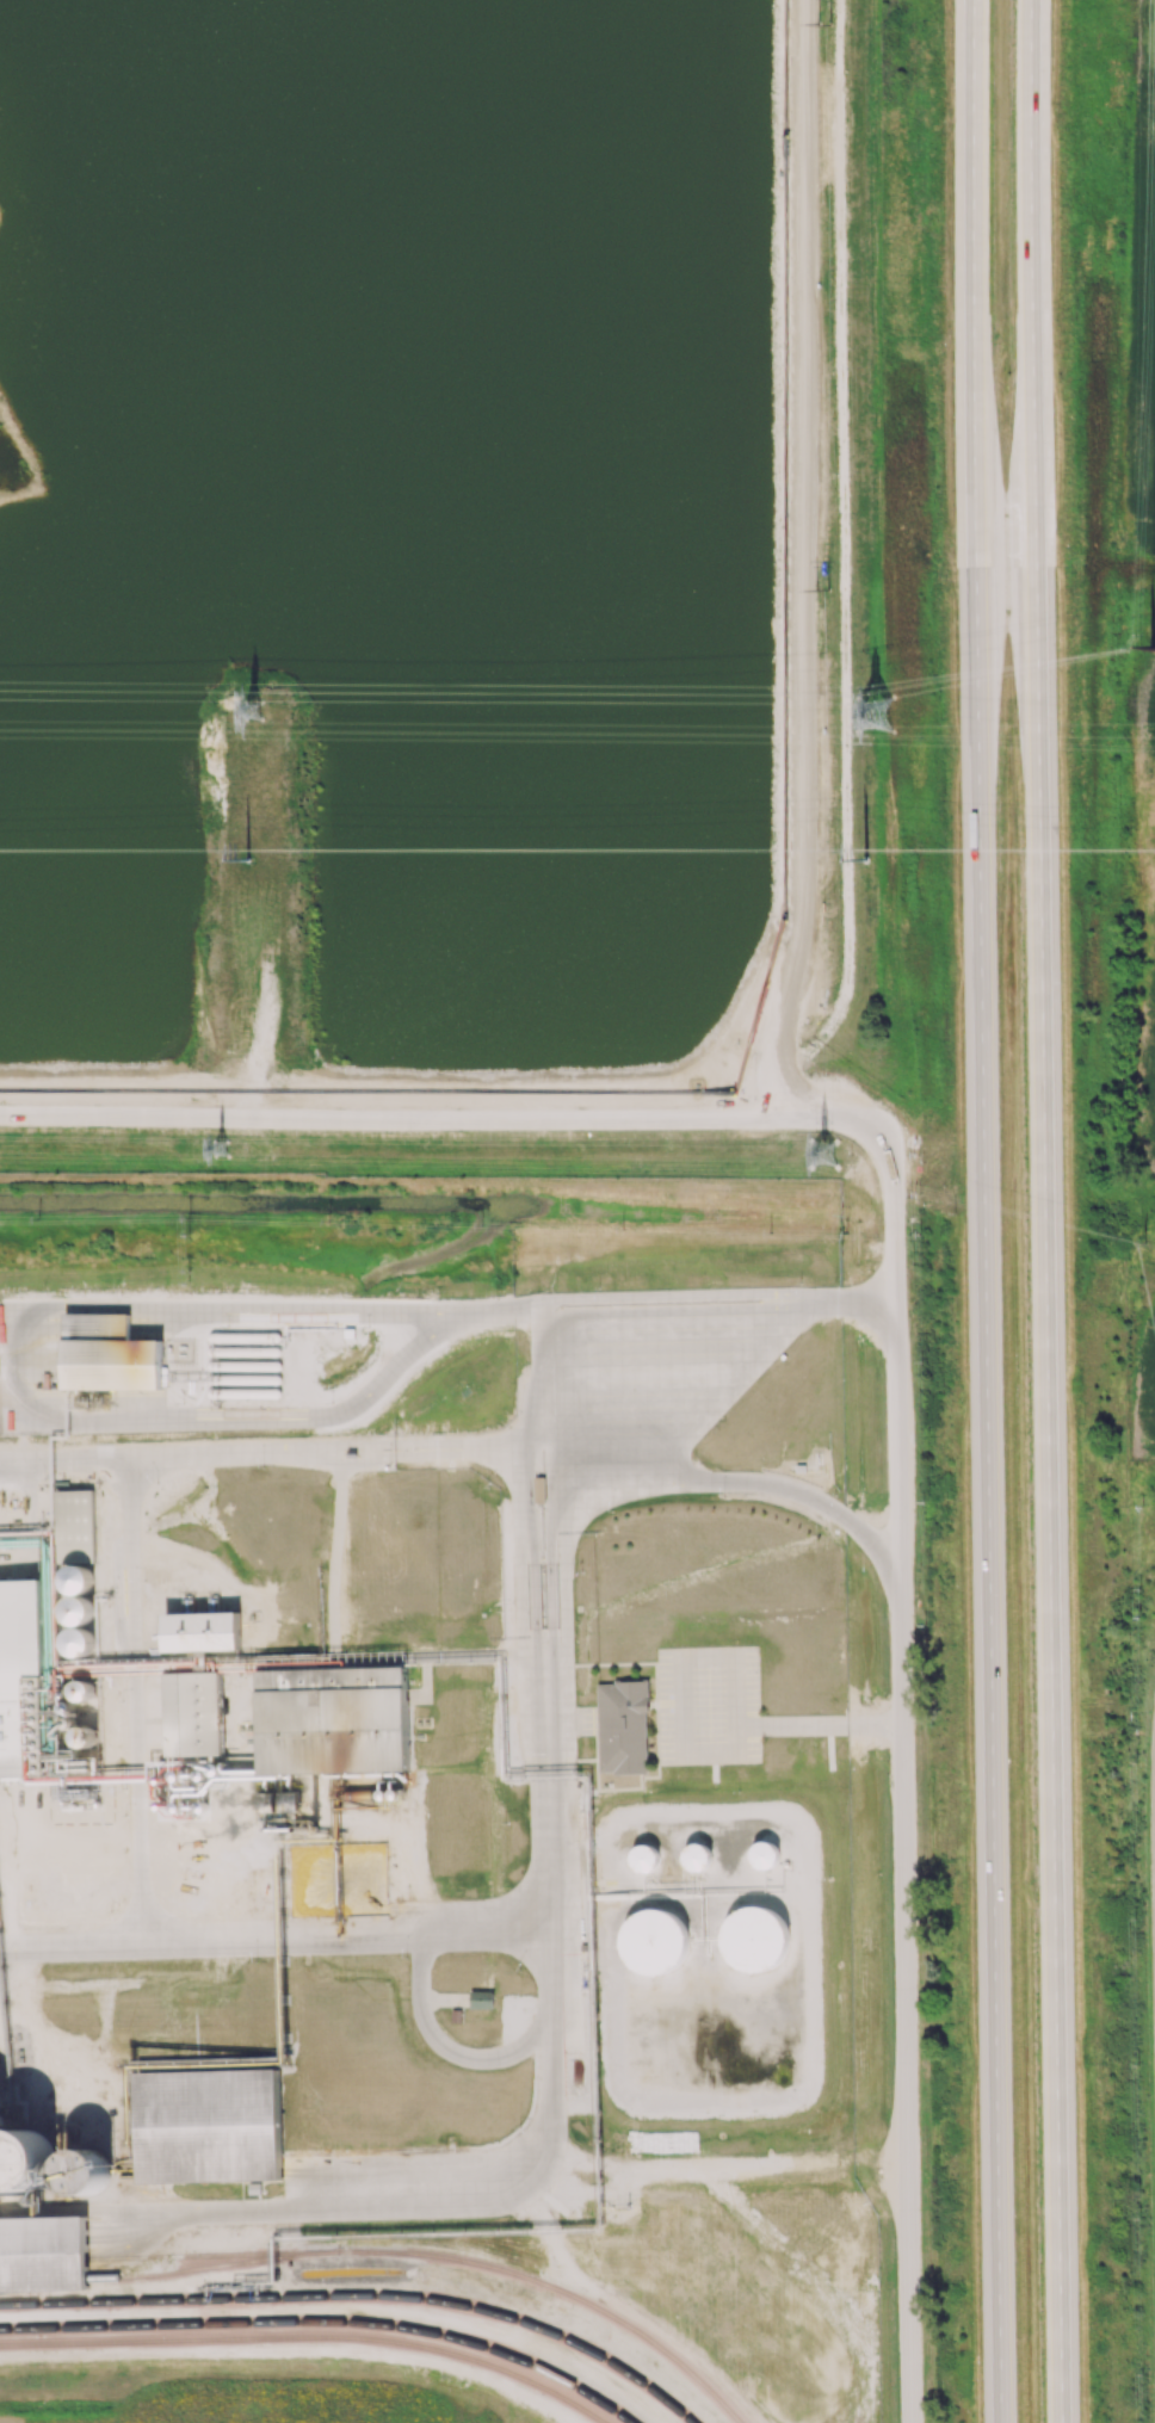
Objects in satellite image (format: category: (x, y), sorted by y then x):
power tower: (827, 25)
power tower: (824, 592)
power tower: (1154, 647)
power tower: (251, 715)
power tower: (872, 722)
power tower: (866, 861)
power tower: (252, 864)
road: (447, 1120)
power tower: (209, 1151)
power tower: (817, 1161)
road: (983, 1211)
road: (1049, 1211)
road: (754, 1359)
road: (681, 1476)
building: (79, 1580)
storage tank: (79, 1580)
building: (80, 1611)
storage tank: (80, 1611)
building: (199, 1634)
building: (80, 1642)
storage tank: (80, 1642)
building: (21, 1683)
building: (193, 1718)
road: (820, 1723)
building: (333, 1724)
road: (684, 1750)
road: (903, 1791)
building: (697, 1855)
building: (765, 1855)
building: (643, 1858)
building: (754, 1937)
building: (654, 1940)
road: (422, 1994)
building: (481, 1998)
building: (456, 2016)
building: (208, 2126)
building: (25, 2158)
road: (525, 2165)
building: (87, 2171)
building: (43, 2252)
railway: (394, 2256)
railway: (153, 2276)
railway: (360, 2297)
railway: (326, 2323)
railway: (309, 2339)

